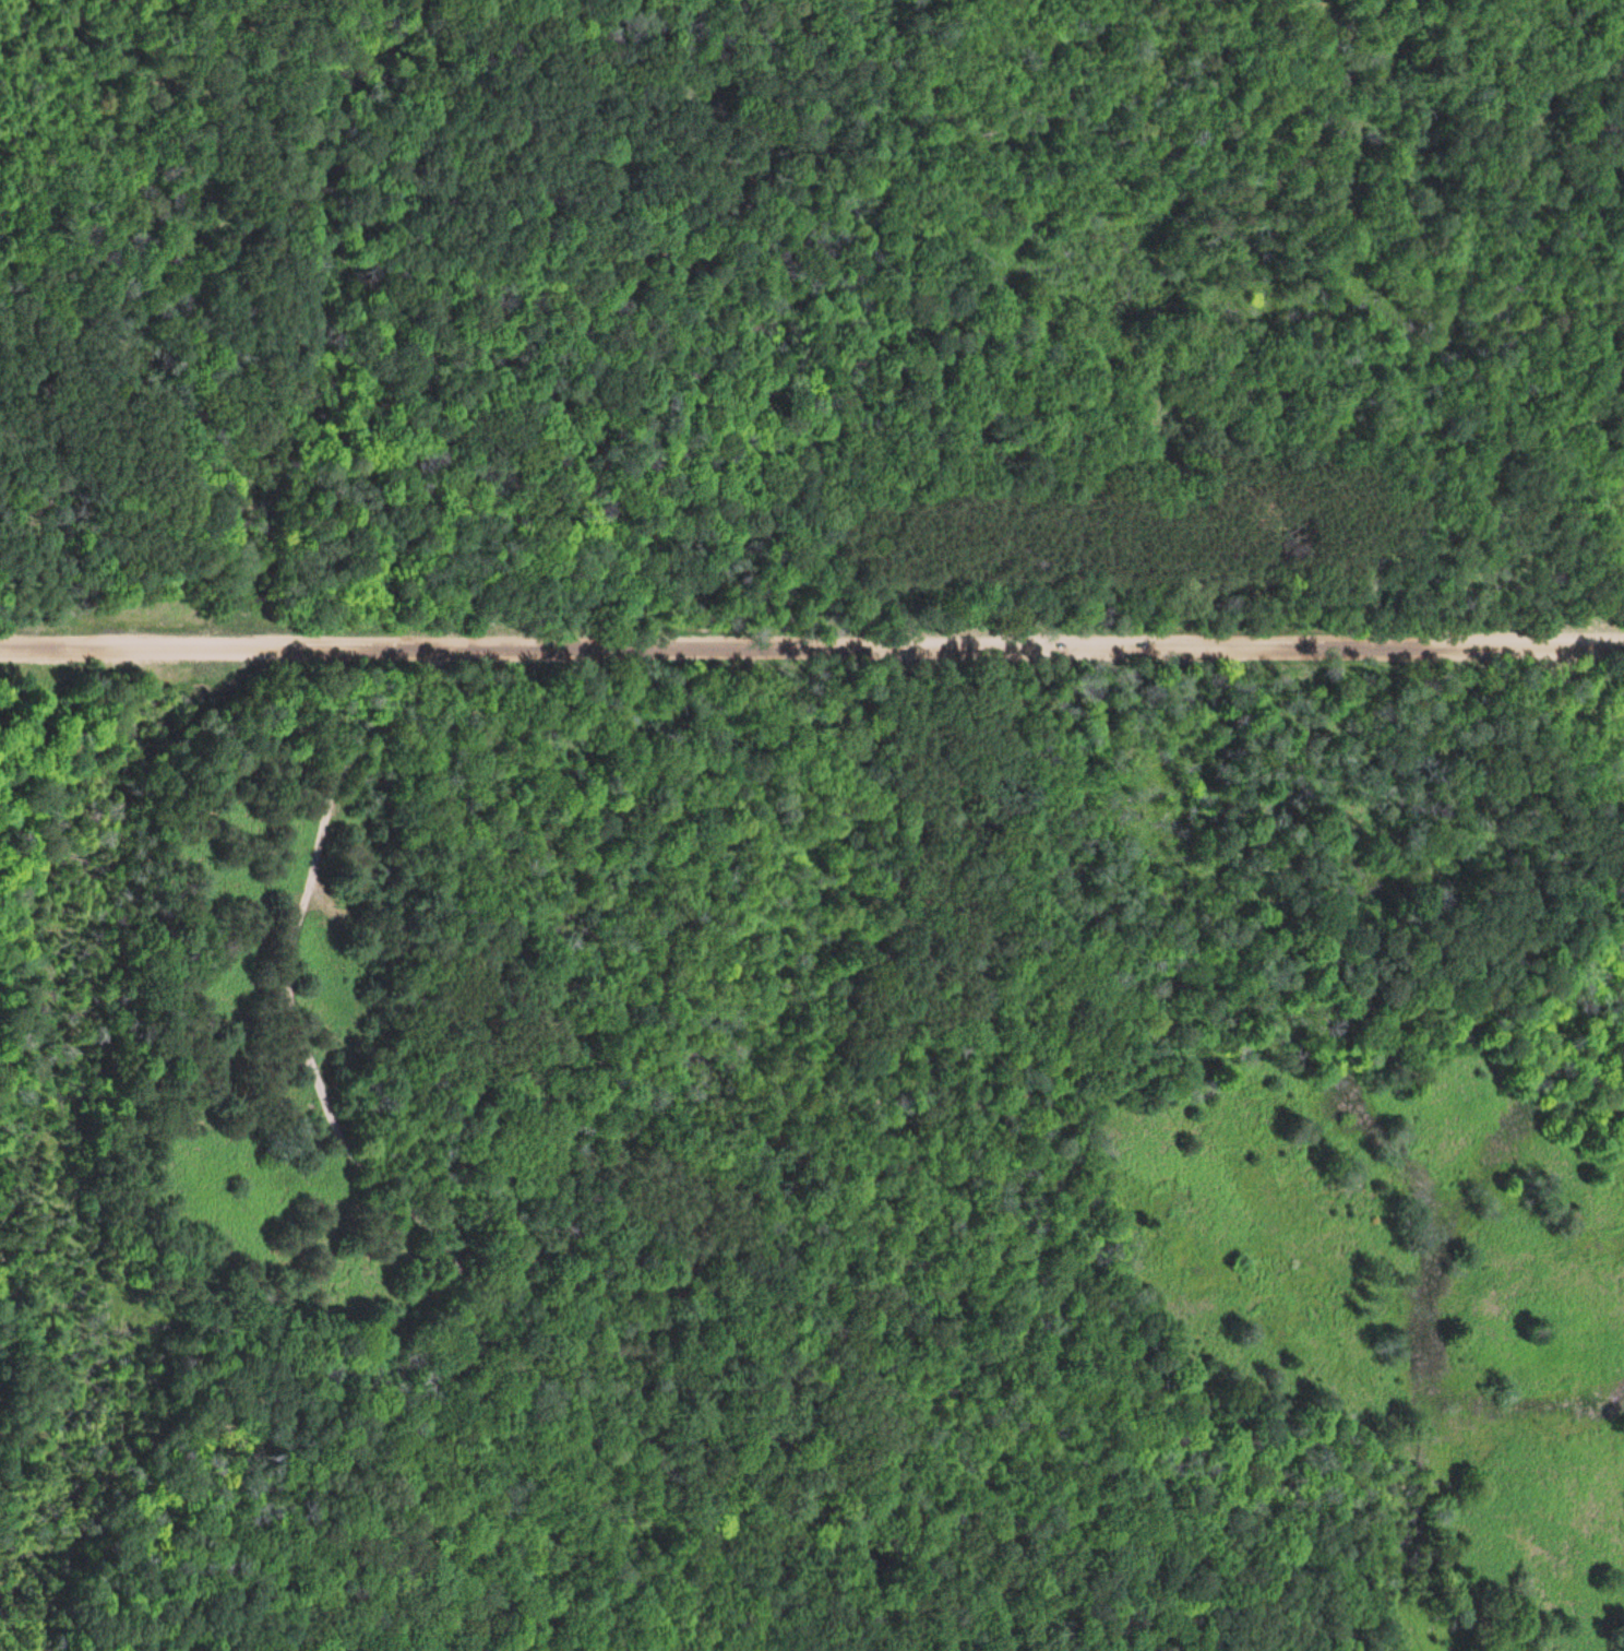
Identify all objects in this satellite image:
road: (812, 649)
road: (384, 1231)

